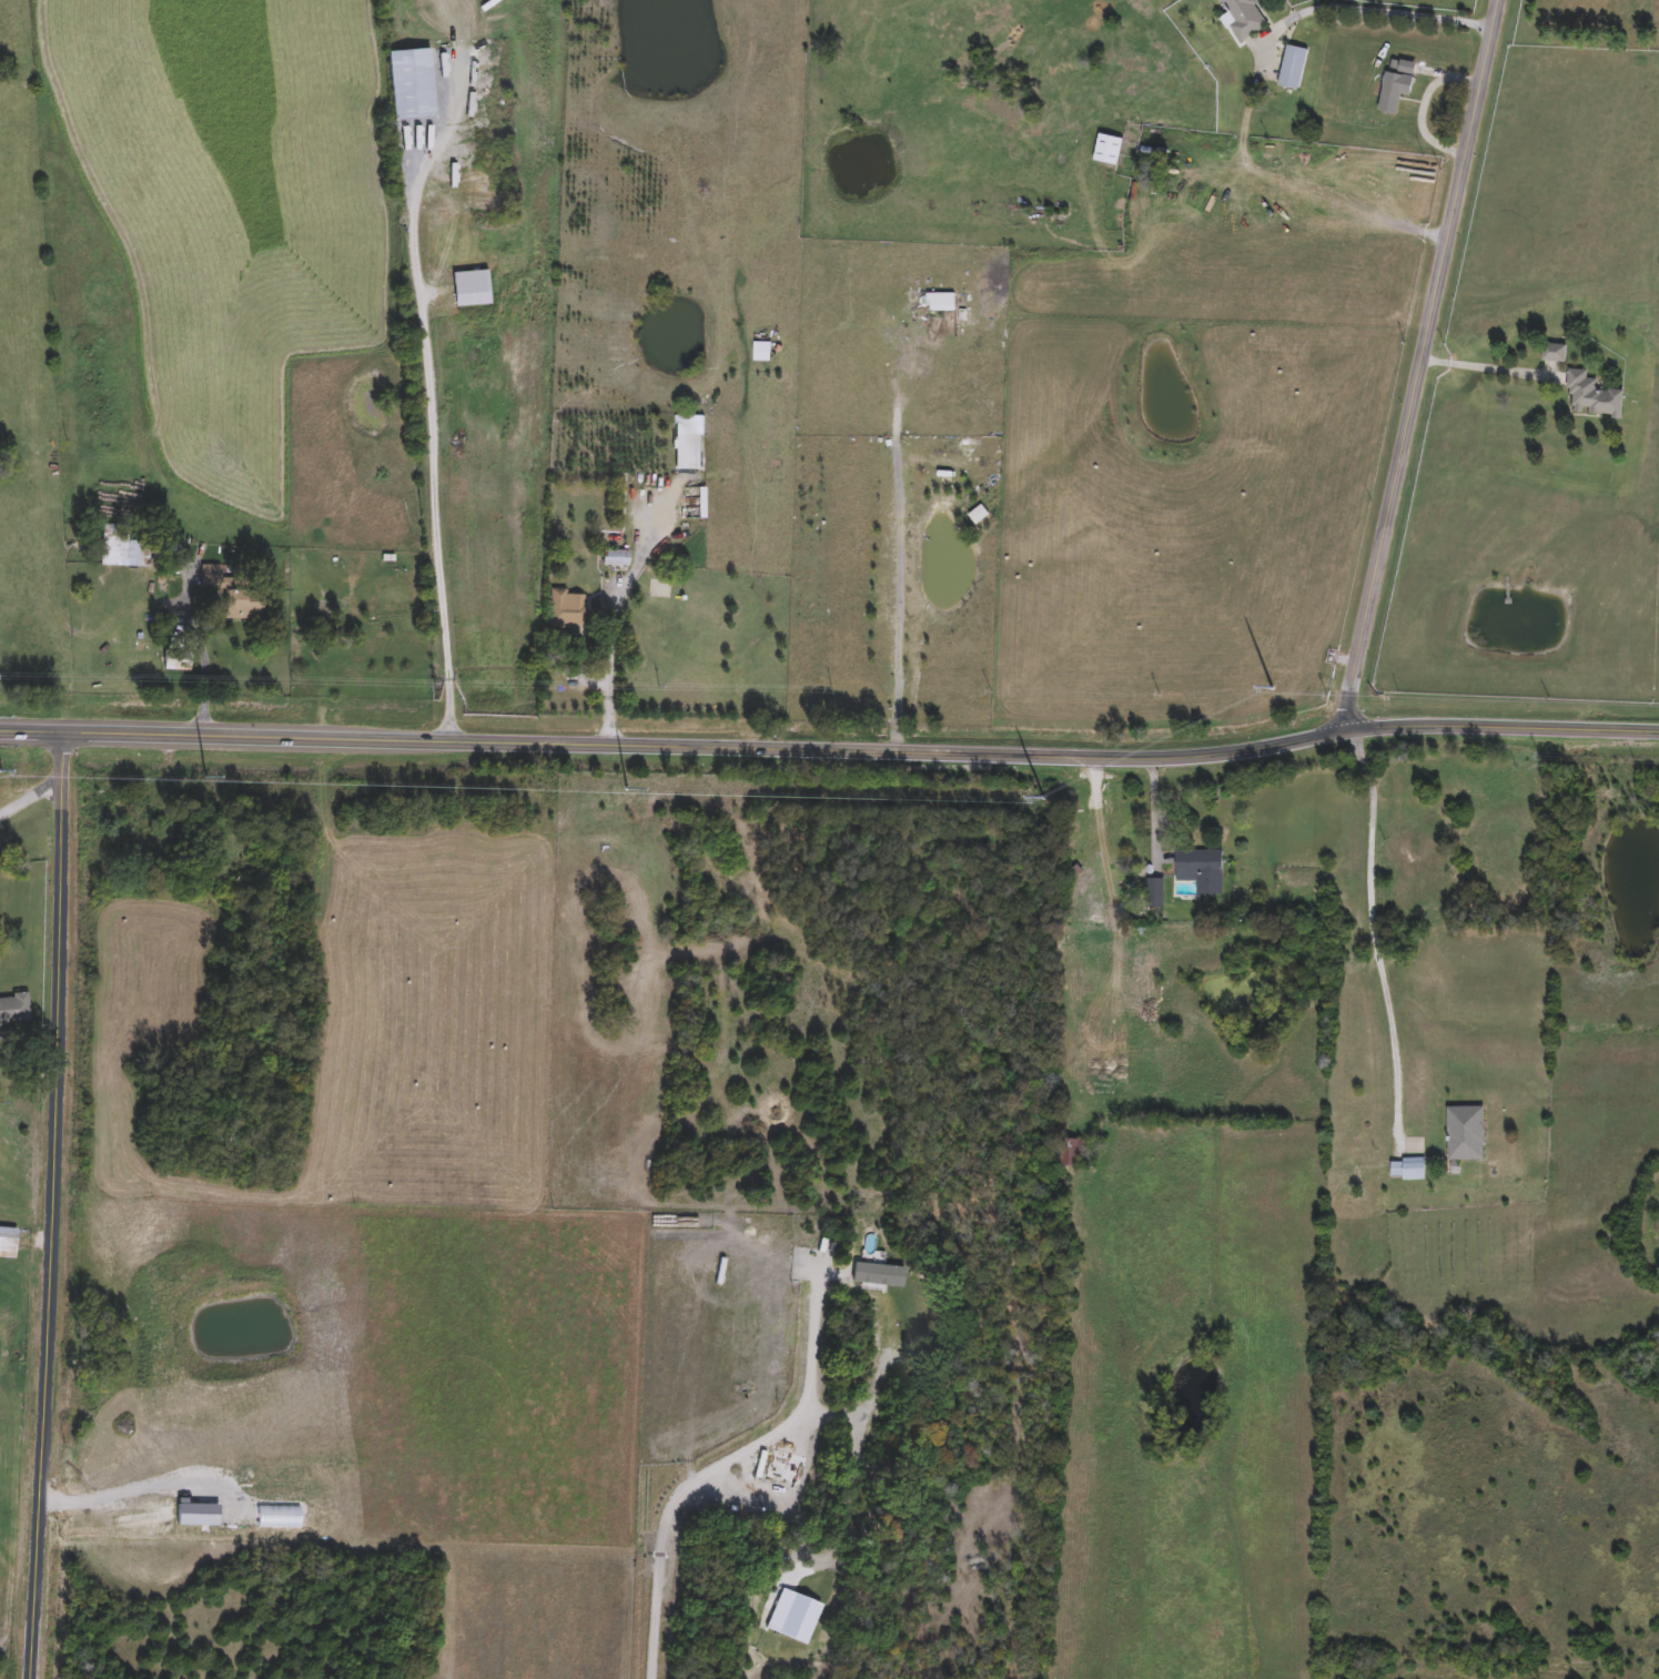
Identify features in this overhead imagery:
road: (1372, 11)
building: (1242, 18)
building: (1301, 70)
building: (415, 83)
building: (1399, 87)
road: (1422, 105)
building: (1110, 151)
building: (475, 289)
building: (763, 351)
building: (1549, 352)
road: (1417, 364)
road: (1481, 370)
building: (1587, 395)
road: (425, 409)
building: (690, 441)
building: (120, 548)
building: (618, 558)
building: (235, 593)
road: (897, 601)
building: (566, 610)
road: (614, 611)
road: (199, 656)
building: (176, 660)
road: (830, 749)
road: (29, 800)
road: (1149, 812)
building: (123, 837)
building: (1196, 870)
building: (1152, 894)
road: (1372, 933)
building: (14, 1003)
building: (1461, 1133)
building: (1072, 1154)
building: (1404, 1169)
road: (55, 1205)
building: (9, 1236)
road: (722, 1463)

